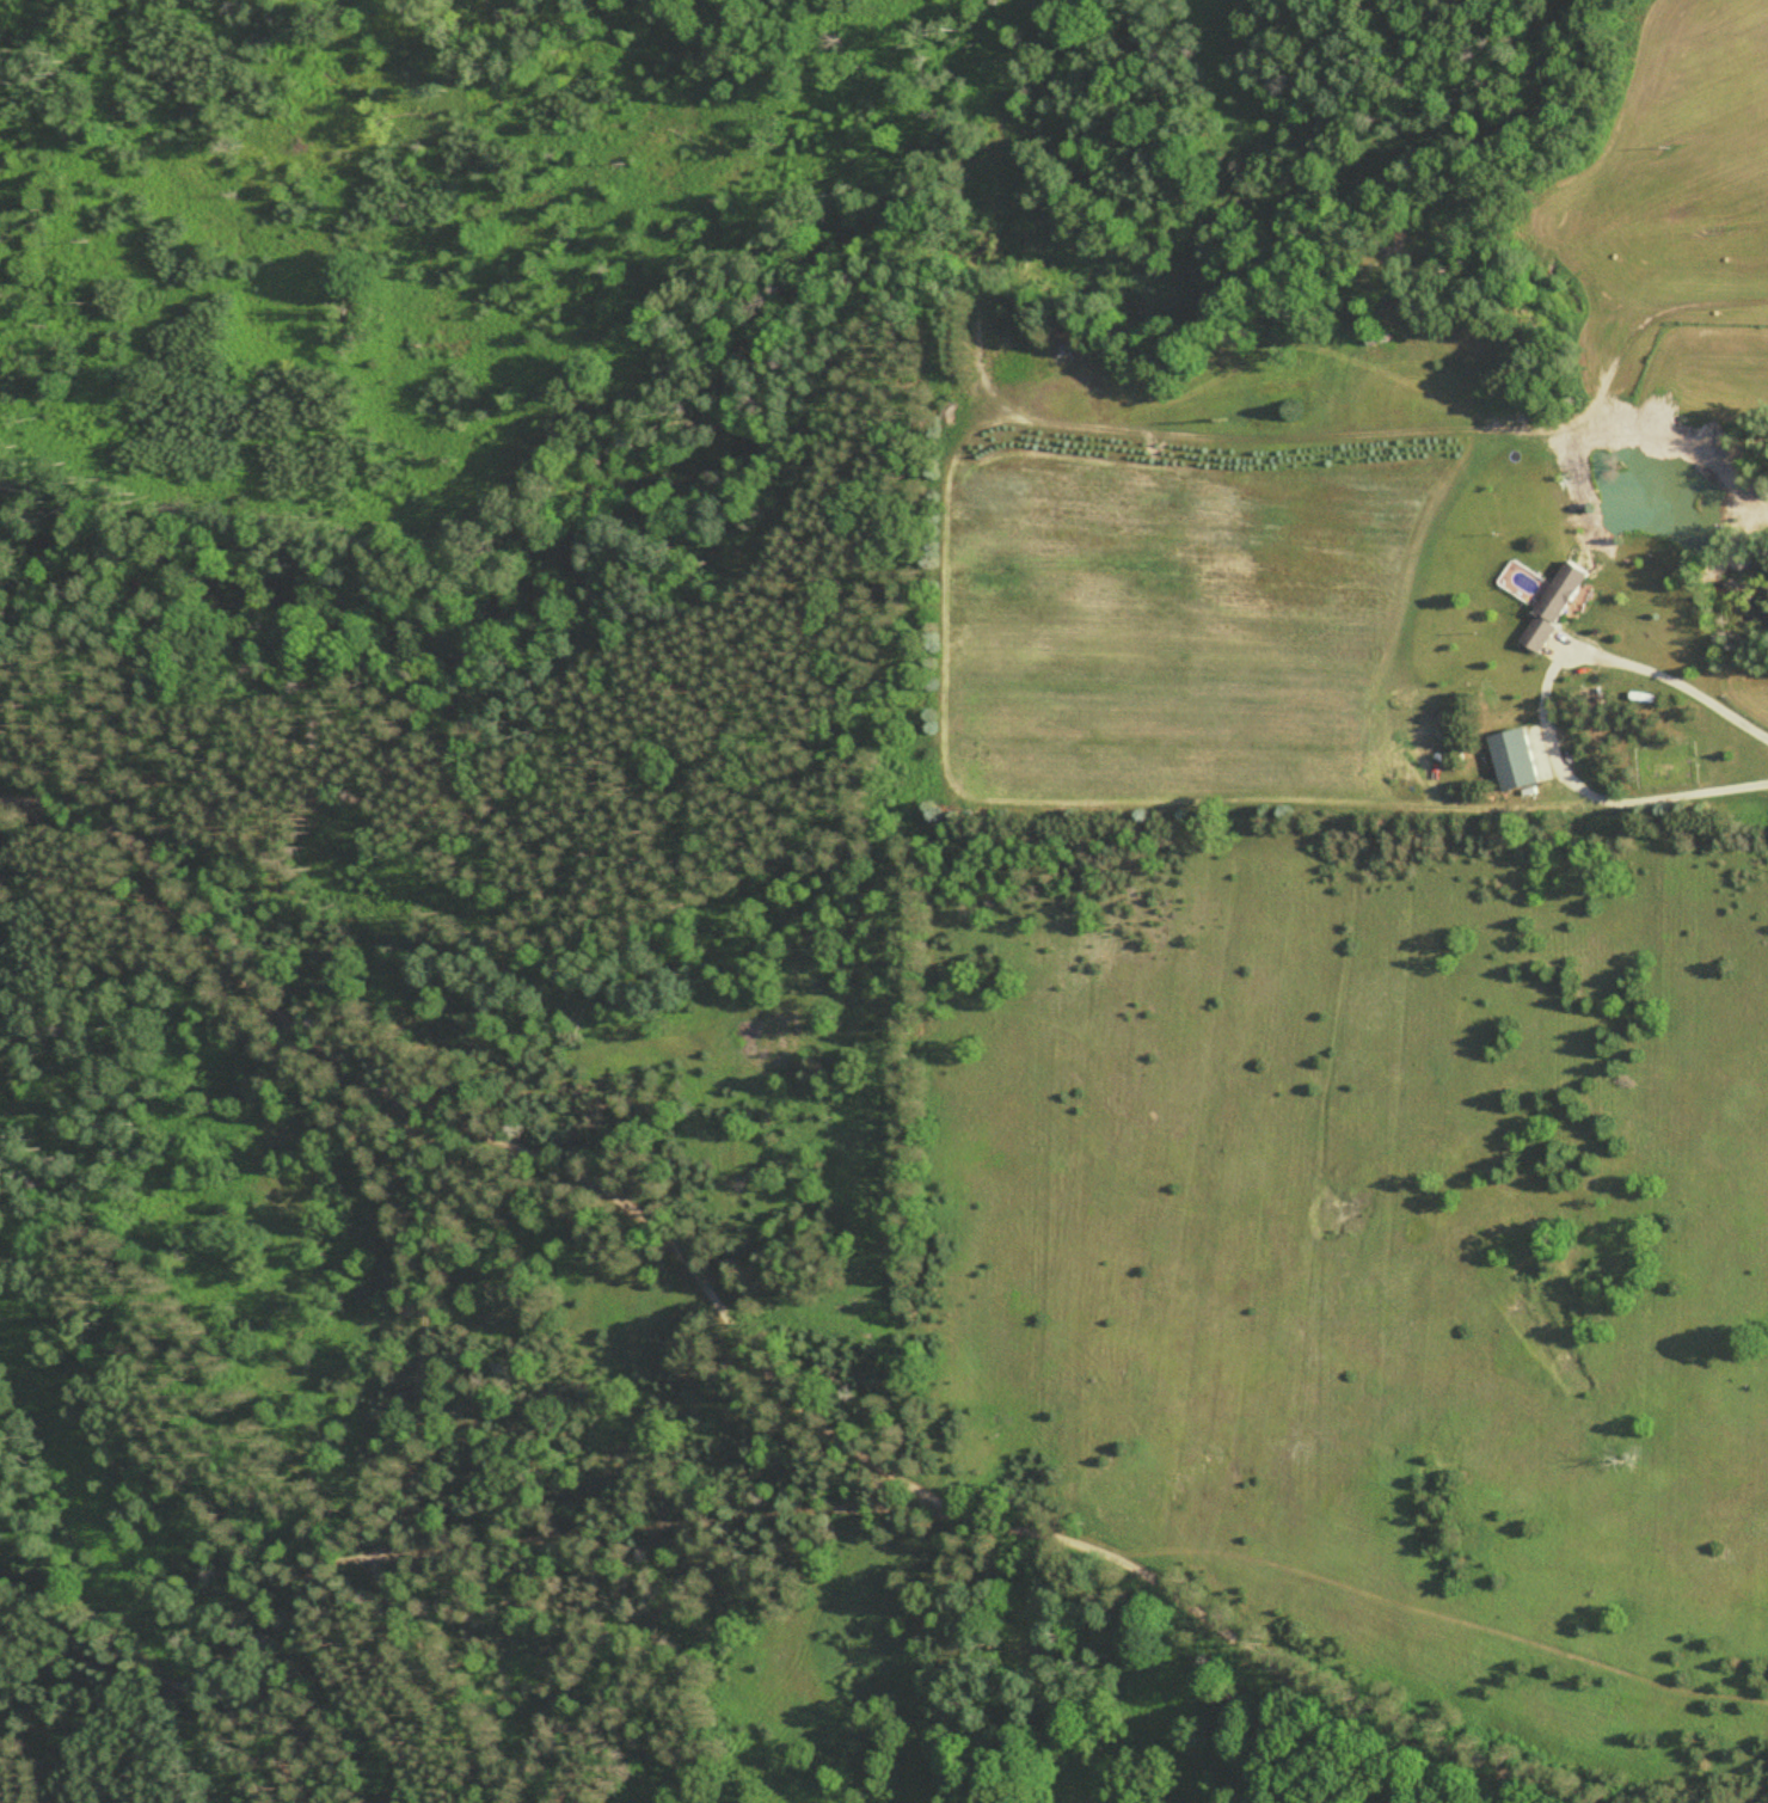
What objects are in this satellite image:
building: (1285, 315)
building: (1381, 337)
building: (1558, 606)
road: (1543, 707)
building: (1520, 759)
road: (92, 882)
road: (755, 1344)
road: (674, 1522)
road: (380, 1559)
road: (633, 1651)

